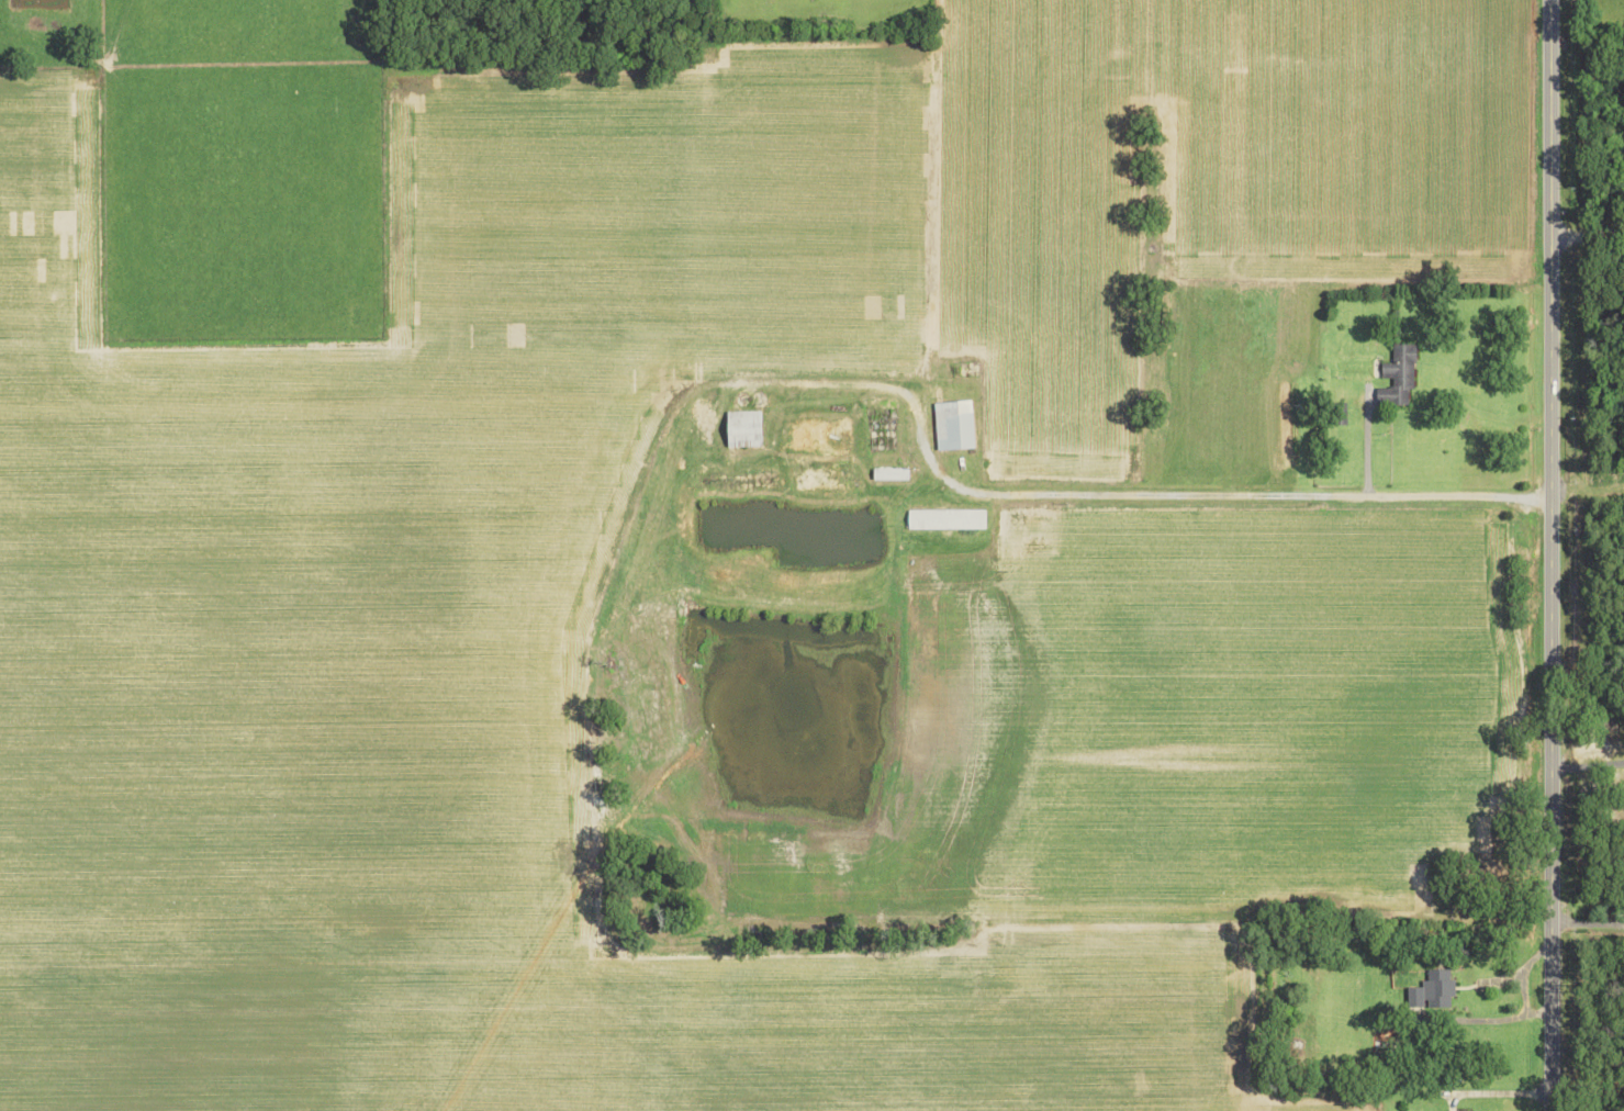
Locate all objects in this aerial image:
road: (1588, 231)
building: (1398, 374)
road: (873, 384)
building: (953, 424)
building: (743, 428)
building: (891, 473)
road: (1257, 501)
building: (945, 518)
road: (1552, 554)
road: (1588, 765)
road: (1523, 970)
building: (1432, 990)
road: (1502, 1017)
road: (1499, 1093)

